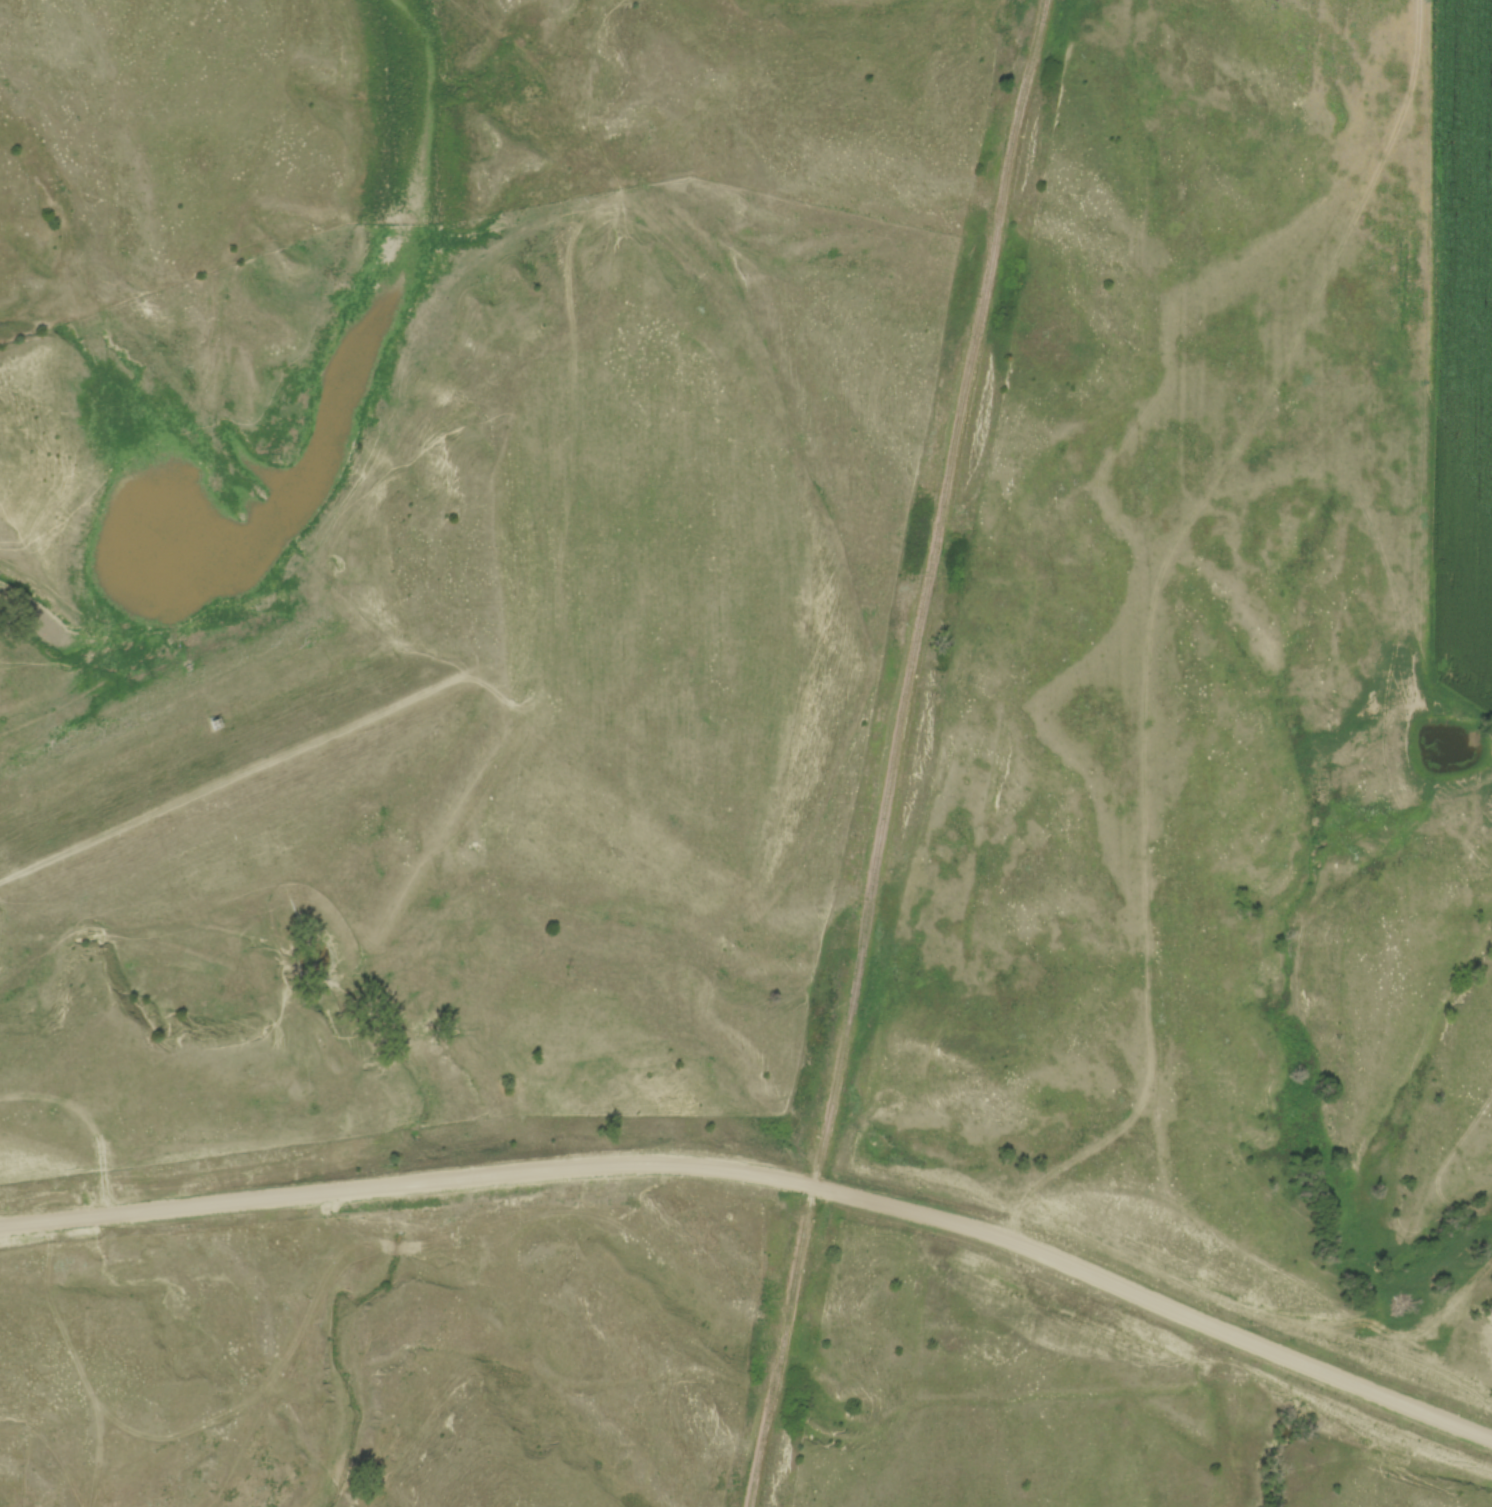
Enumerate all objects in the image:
crop: (1467, 356)
railway: (894, 753)
road: (768, 1176)

